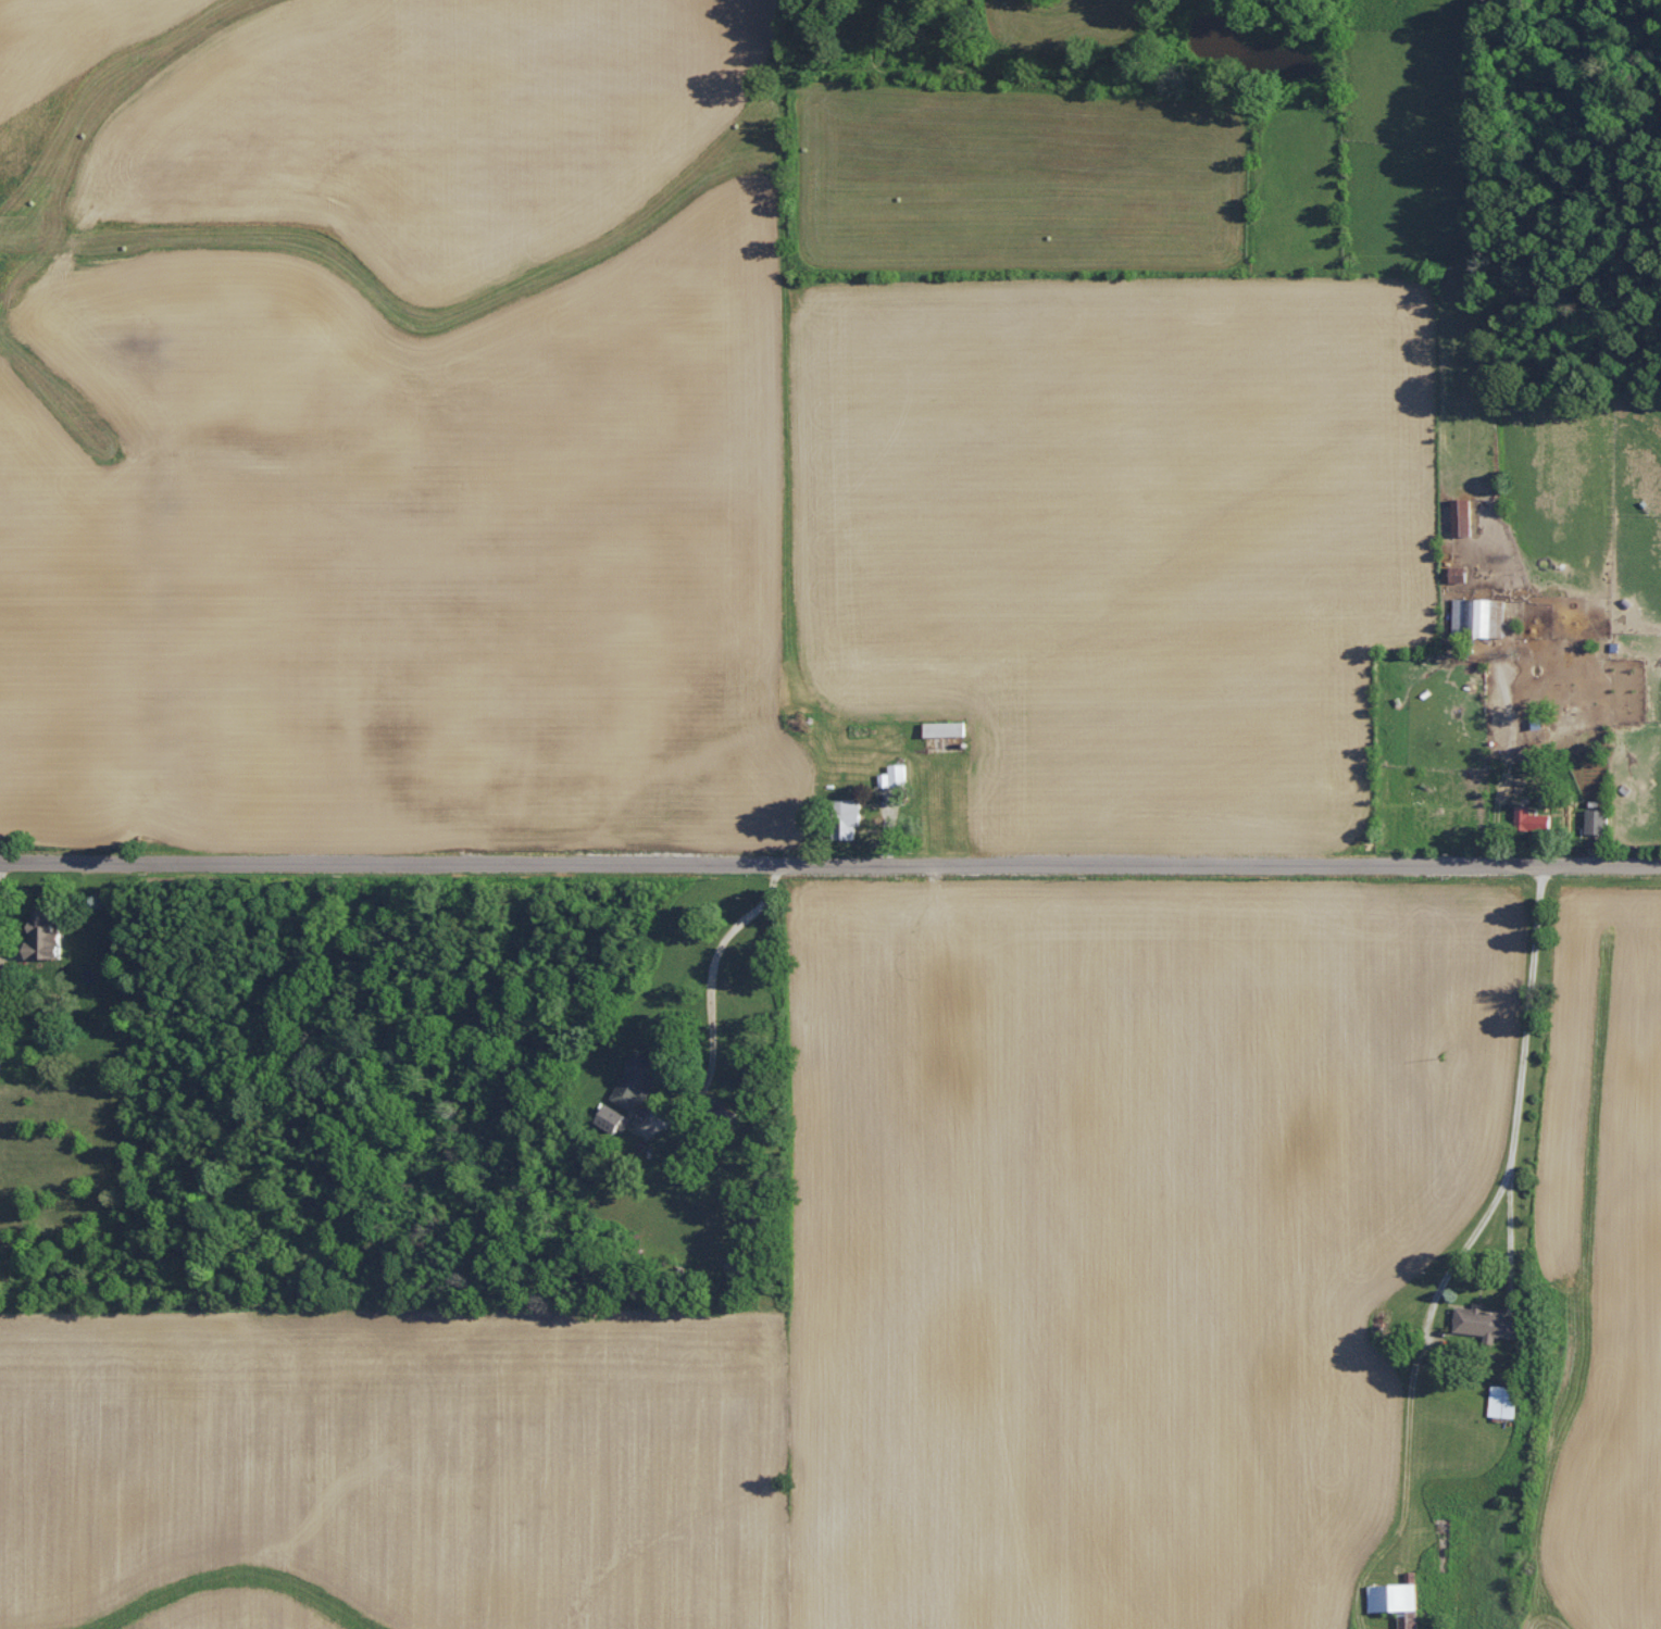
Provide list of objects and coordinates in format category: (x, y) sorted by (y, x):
building: (1458, 516)
building: (1477, 616)
building: (892, 775)
building: (842, 817)
building: (1527, 818)
building: (1594, 820)
road: (829, 865)
road: (0, 906)
building: (50, 931)
road: (712, 991)
building: (639, 1079)
building: (617, 1117)
road: (1465, 1219)
building: (1482, 1321)
building: (1395, 1601)

